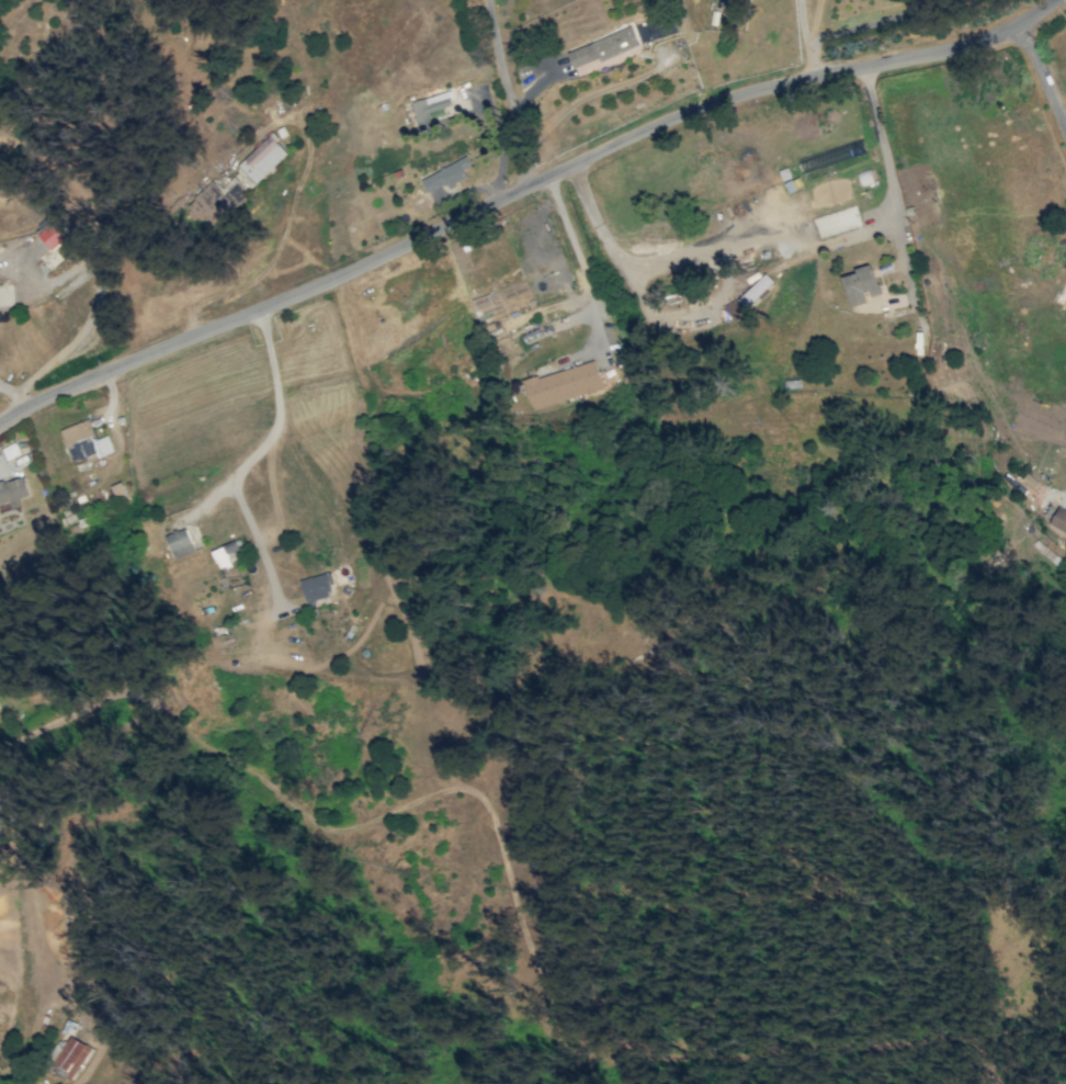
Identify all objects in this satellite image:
building: (602, 47)
road: (1043, 72)
road: (507, 94)
building: (429, 105)
building: (445, 174)
building: (237, 183)
road: (520, 192)
building: (52, 236)
road: (782, 239)
road: (576, 247)
building: (861, 284)
building: (755, 290)
building: (481, 302)
building: (734, 309)
building: (563, 384)
building: (84, 441)
road: (250, 456)
building: (13, 490)
building: (1058, 520)
building: (179, 543)
building: (224, 554)
building: (235, 575)
building: (318, 586)
building: (0, 707)
road: (3, 810)
building: (71, 1058)

